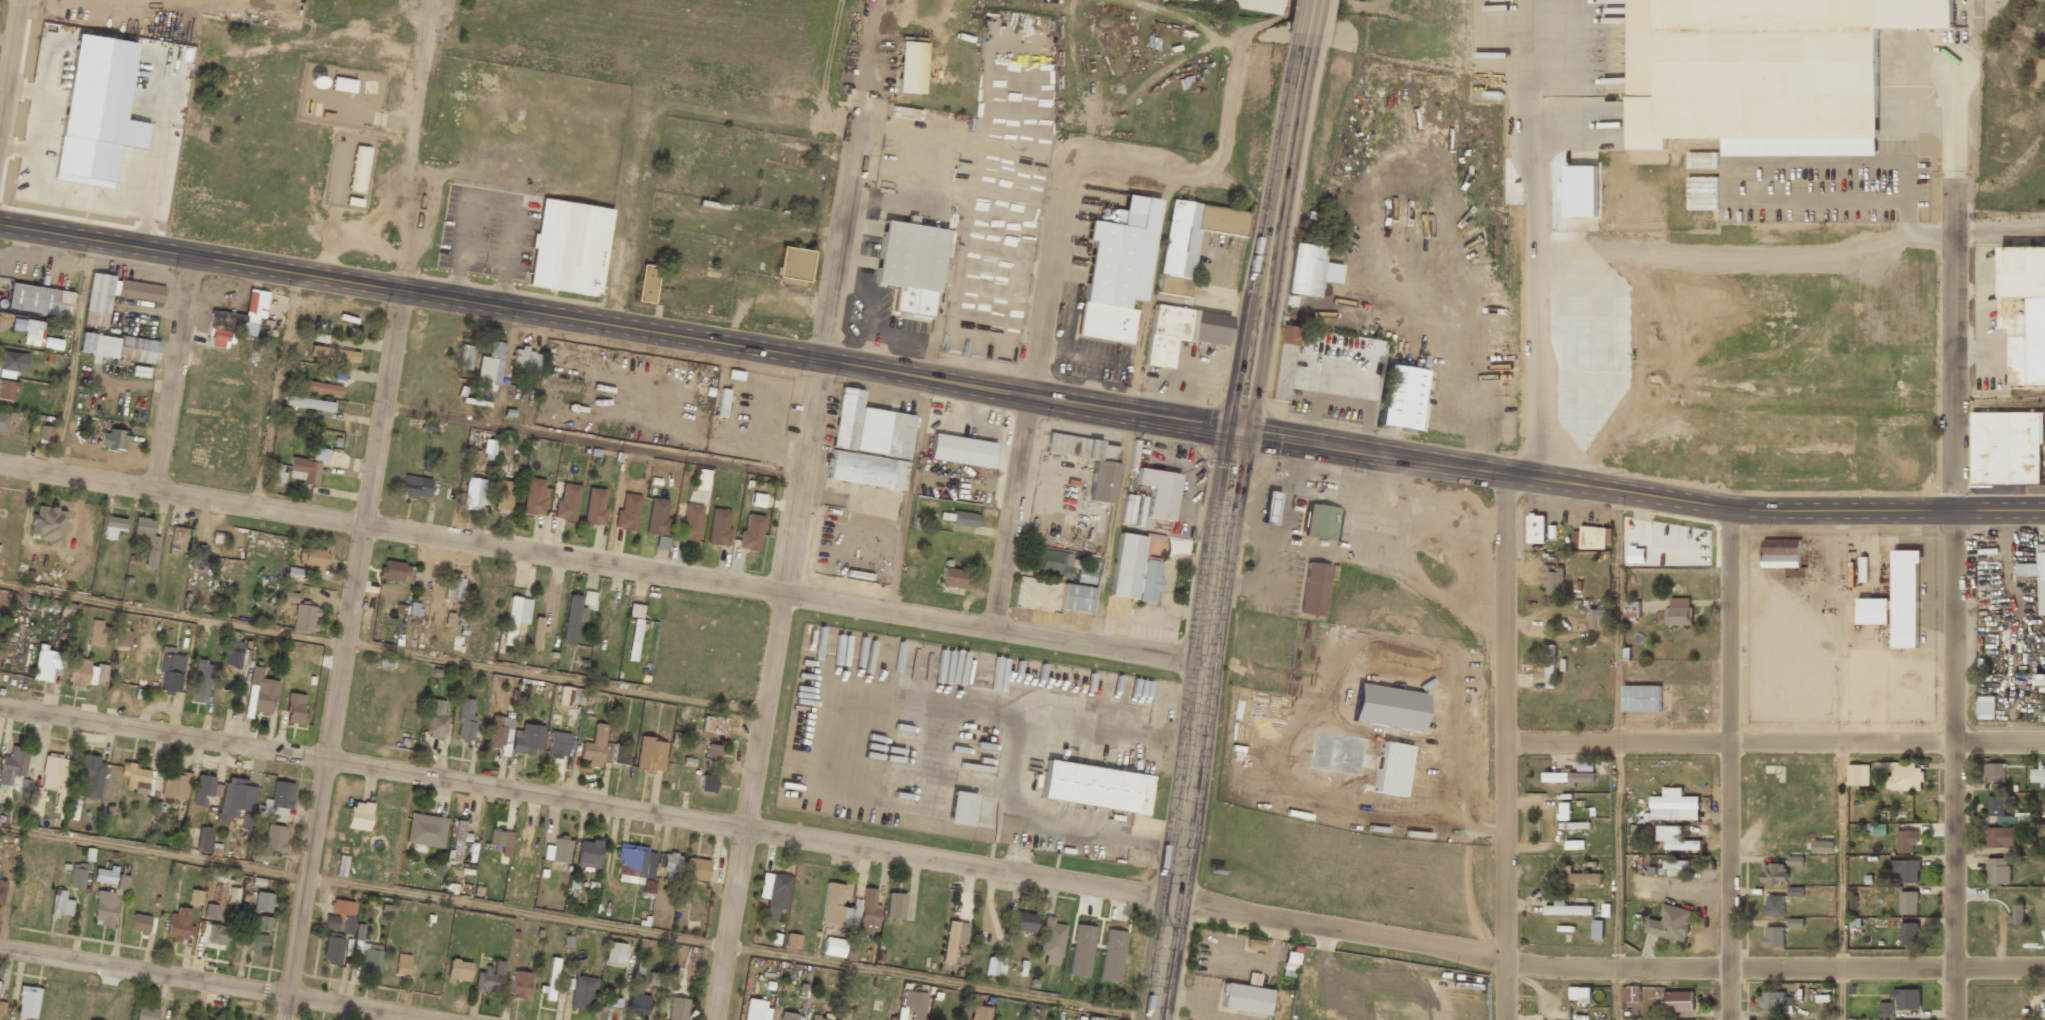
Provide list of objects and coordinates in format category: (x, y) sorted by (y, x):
building: (1489, 0)
building: (1265, 2)
road: (1304, 21)
building: (1761, 66)
building: (910, 67)
road: (11, 72)
building: (2040, 75)
building: (1703, 160)
building: (358, 169)
building: (1579, 191)
road: (627, 215)
road: (1270, 236)
building: (1191, 240)
building: (568, 247)
building: (793, 264)
building: (909, 266)
building: (1116, 270)
building: (1304, 270)
building: (646, 283)
road: (1954, 289)
building: (115, 296)
building: (39, 300)
building: (2024, 311)
building: (235, 321)
road: (619, 327)
building: (1181, 332)
building: (35, 334)
road: (1540, 343)
building: (118, 347)
building: (334, 353)
building: (465, 357)
road: (73, 358)
building: (526, 359)
building: (1281, 363)
building: (490, 366)
road: (175, 373)
building: (320, 388)
building: (7, 390)
road: (277, 390)
building: (1401, 398)
railway: (2032, 400)
road: (1028, 402)
building: (309, 403)
building: (5, 420)
traffic signals: (1239, 431)
building: (45, 433)
building: (113, 440)
road: (595, 441)
building: (868, 444)
building: (488, 449)
building: (2006, 449)
building: (961, 451)
building: (320, 454)
building: (304, 470)
building: (276, 474)
building: (702, 479)
building: (1101, 480)
road: (1595, 485)
building: (416, 487)
building: (1158, 492)
building: (473, 494)
road: (908, 495)
building: (503, 496)
building: (535, 497)
building: (757, 500)
building: (567, 503)
building: (595, 506)
building: (1269, 507)
road: (1999, 508)
road: (371, 509)
building: (627, 513)
building: (657, 517)
building: (965, 519)
building: (690, 522)
building: (1319, 522)
building: (48, 524)
building: (718, 526)
building: (113, 527)
road: (1112, 527)
building: (1537, 529)
building: (751, 533)
building: (177, 538)
building: (1595, 538)
building: (146, 540)
building: (662, 543)
building: (1637, 555)
building: (1784, 555)
building: (312, 557)
building: (199, 558)
building: (1051, 563)
road: (601, 564)
building: (1124, 565)
building: (393, 570)
building: (2024, 572)
building: (293, 573)
building: (1085, 576)
building: (953, 578)
road: (788, 579)
building: (2041, 579)
building: (1149, 581)
building: (1554, 582)
building: (454, 587)
building: (1313, 589)
building: (289, 597)
building: (1075, 598)
building: (1905, 599)
building: (1632, 610)
building: (635, 611)
building: (1679, 611)
building: (1873, 611)
road: (1617, 616)
building: (515, 617)
building: (304, 618)
building: (572, 619)
building: (1598, 619)
building: (537, 632)
building: (98, 633)
building: (124, 638)
building: (633, 640)
road: (382, 650)
building: (234, 654)
building: (1550, 667)
building: (170, 670)
building: (86, 672)
building: (201, 682)
building: (2039, 683)
building: (260, 692)
building: (569, 696)
building: (1641, 698)
building: (1985, 706)
building: (295, 709)
building: (436, 719)
building: (466, 721)
building: (713, 725)
road: (1196, 725)
building: (500, 731)
building: (528, 739)
road: (1775, 743)
building: (557, 744)
road: (1505, 746)
building: (594, 747)
building: (620, 753)
building: (650, 755)
building: (712, 756)
road: (1730, 763)
road: (1954, 764)
building: (12, 765)
building: (1994, 773)
building: (90, 775)
building: (1858, 775)
building: (135, 777)
building: (1568, 777)
building: (1906, 777)
building: (2038, 777)
building: (707, 783)
building: (176, 785)
building: (1095, 787)
building: (205, 789)
building: (236, 798)
building: (278, 802)
building: (36, 803)
building: (1995, 806)
building: (1675, 808)
building: (960, 809)
building: (1565, 811)
building: (359, 816)
building: (425, 830)
building: (2000, 837)
building: (203, 839)
building: (1675, 839)
building: (458, 841)
building: (500, 841)
building: (1907, 841)
building: (270, 843)
building: (1574, 843)
building: (1823, 846)
building: (557, 850)
building: (588, 854)
road: (1841, 855)
road: (1617, 856)
building: (1680, 864)
building: (669, 866)
building: (636, 867)
building: (696, 869)
building: (1995, 870)
building: (1906, 871)
building: (1775, 873)
road: (1019, 874)
building: (78, 875)
building: (104, 875)
building: (1579, 877)
building: (122, 881)
building: (1796, 891)
building: (1, 892)
building: (773, 893)
building: (195, 897)
building: (262, 902)
building: (1909, 902)
building: (60, 904)
building: (1773, 905)
building: (894, 906)
building: (342, 907)
building: (833, 907)
building: (105, 908)
building: (1566, 908)
building: (210, 911)
building: (1603, 911)
building: (867, 913)
building: (2016, 915)
road: (576, 921)
building: (330, 922)
building: (1023, 922)
building: (140, 923)
building: (263, 923)
building: (1670, 924)
building: (180, 925)
building: (348, 925)
building: (1597, 930)
building: (1909, 933)
building: (217, 934)
building: (1773, 937)
building: (953, 939)
building: (792, 941)
building: (1050, 941)
building: (256, 943)
building: (1254, 945)
building: (833, 947)
building: (332, 950)
building: (615, 953)
building: (371, 959)
building: (402, 965)
building: (994, 966)
building: (458, 970)
building: (372, 978)
building: (660, 978)
building: (490, 979)
building: (550, 980)
road: (226, 981)
building: (520, 984)
building: (582, 992)
building: (1580, 994)
road: (1617, 994)
building: (1631, 994)
road: (1841, 994)
building: (1907, 998)
building: (1244, 1000)
building: (28, 1002)
building: (612, 1002)
building: (1678, 1002)
building: (1775, 1002)
building: (914, 1004)
building: (638, 1006)
building: (2, 1007)
building: (677, 1009)
building: (1886, 1009)
building: (756, 1010)
building: (145, 1013)
building: (900, 1013)
building: (979, 1013)
building: (788, 1016)
building: (818, 1018)
building: (1094, 1018)
building: (1653, 1019)

